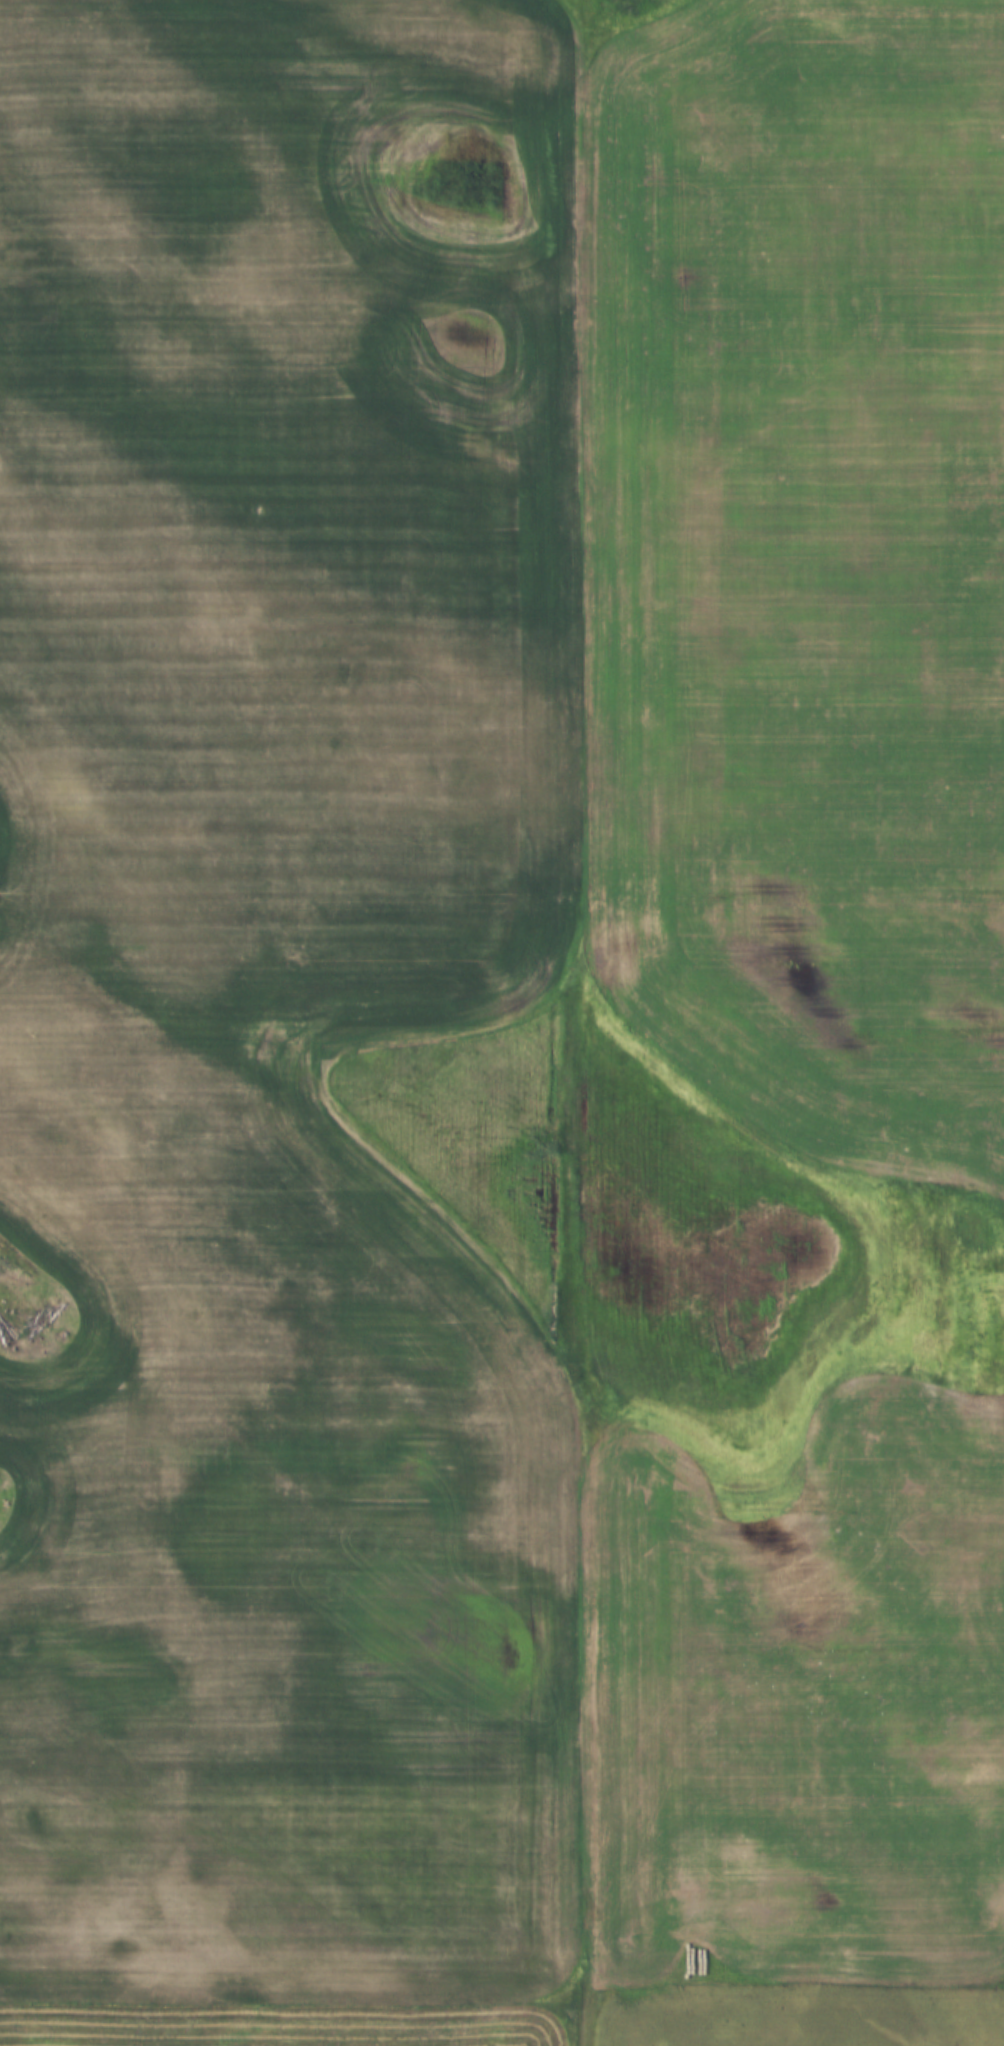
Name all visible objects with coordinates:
road: (576, 1023)

